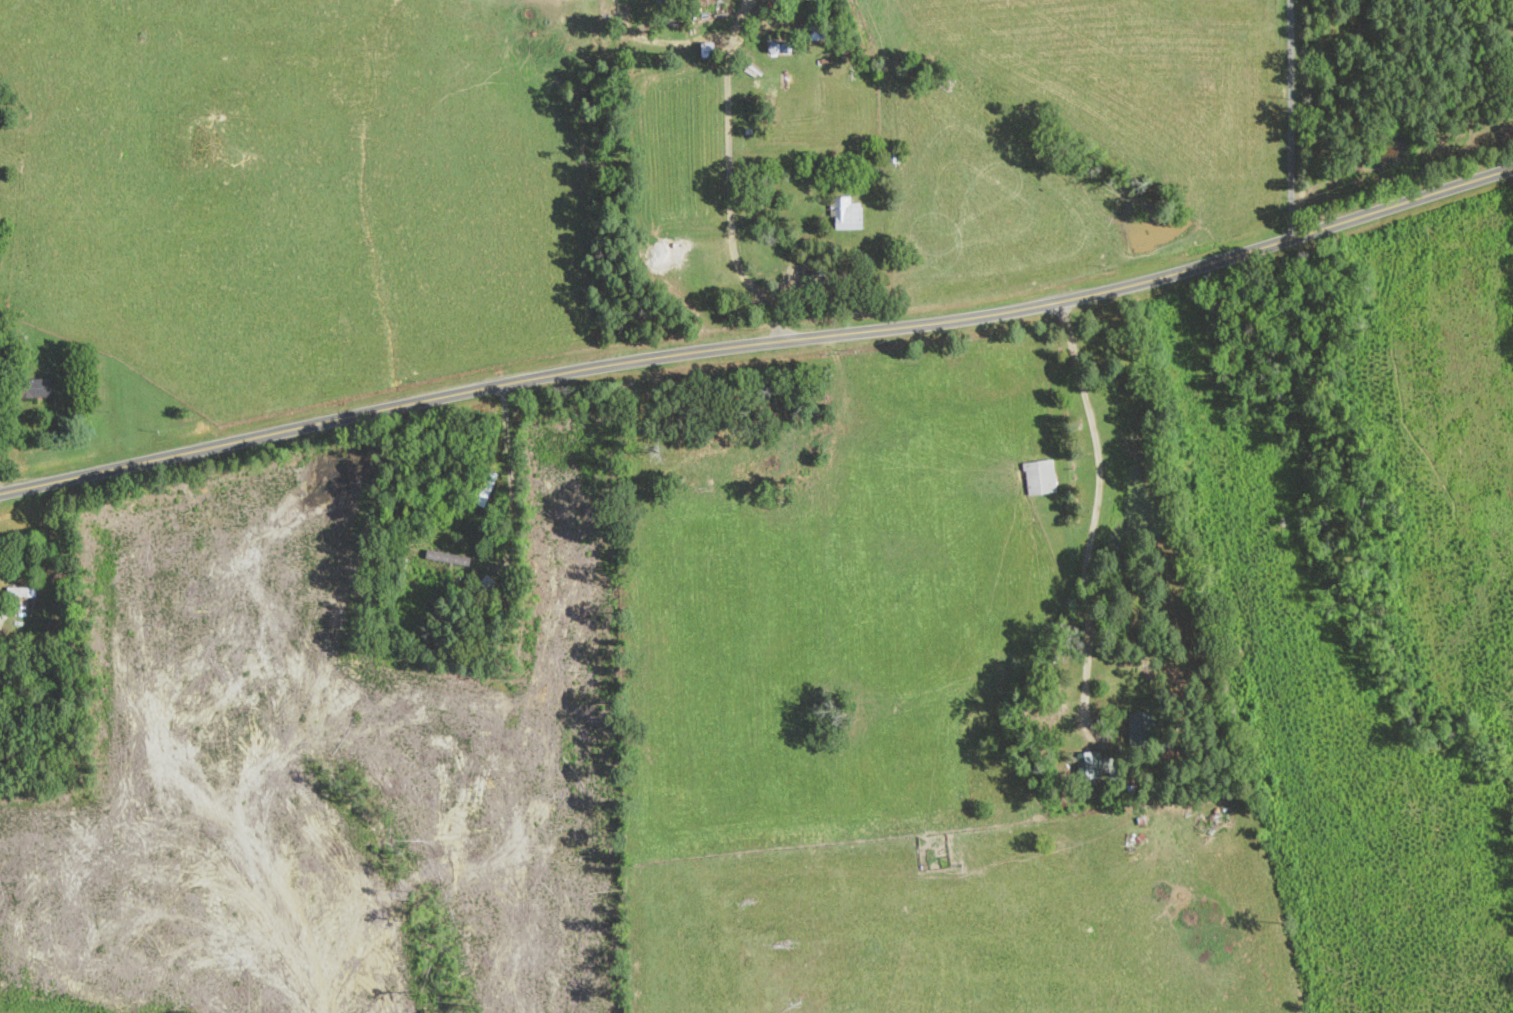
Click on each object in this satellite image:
building: (821, 32)
road: (659, 40)
building: (780, 48)
road: (1290, 115)
building: (893, 154)
road: (729, 169)
building: (848, 215)
road: (758, 334)
building: (36, 389)
road: (509, 456)
building: (1040, 477)
road: (1096, 504)
building: (436, 557)
building: (485, 586)
building: (21, 592)
building: (1143, 727)
building: (1107, 778)
building: (935, 851)

